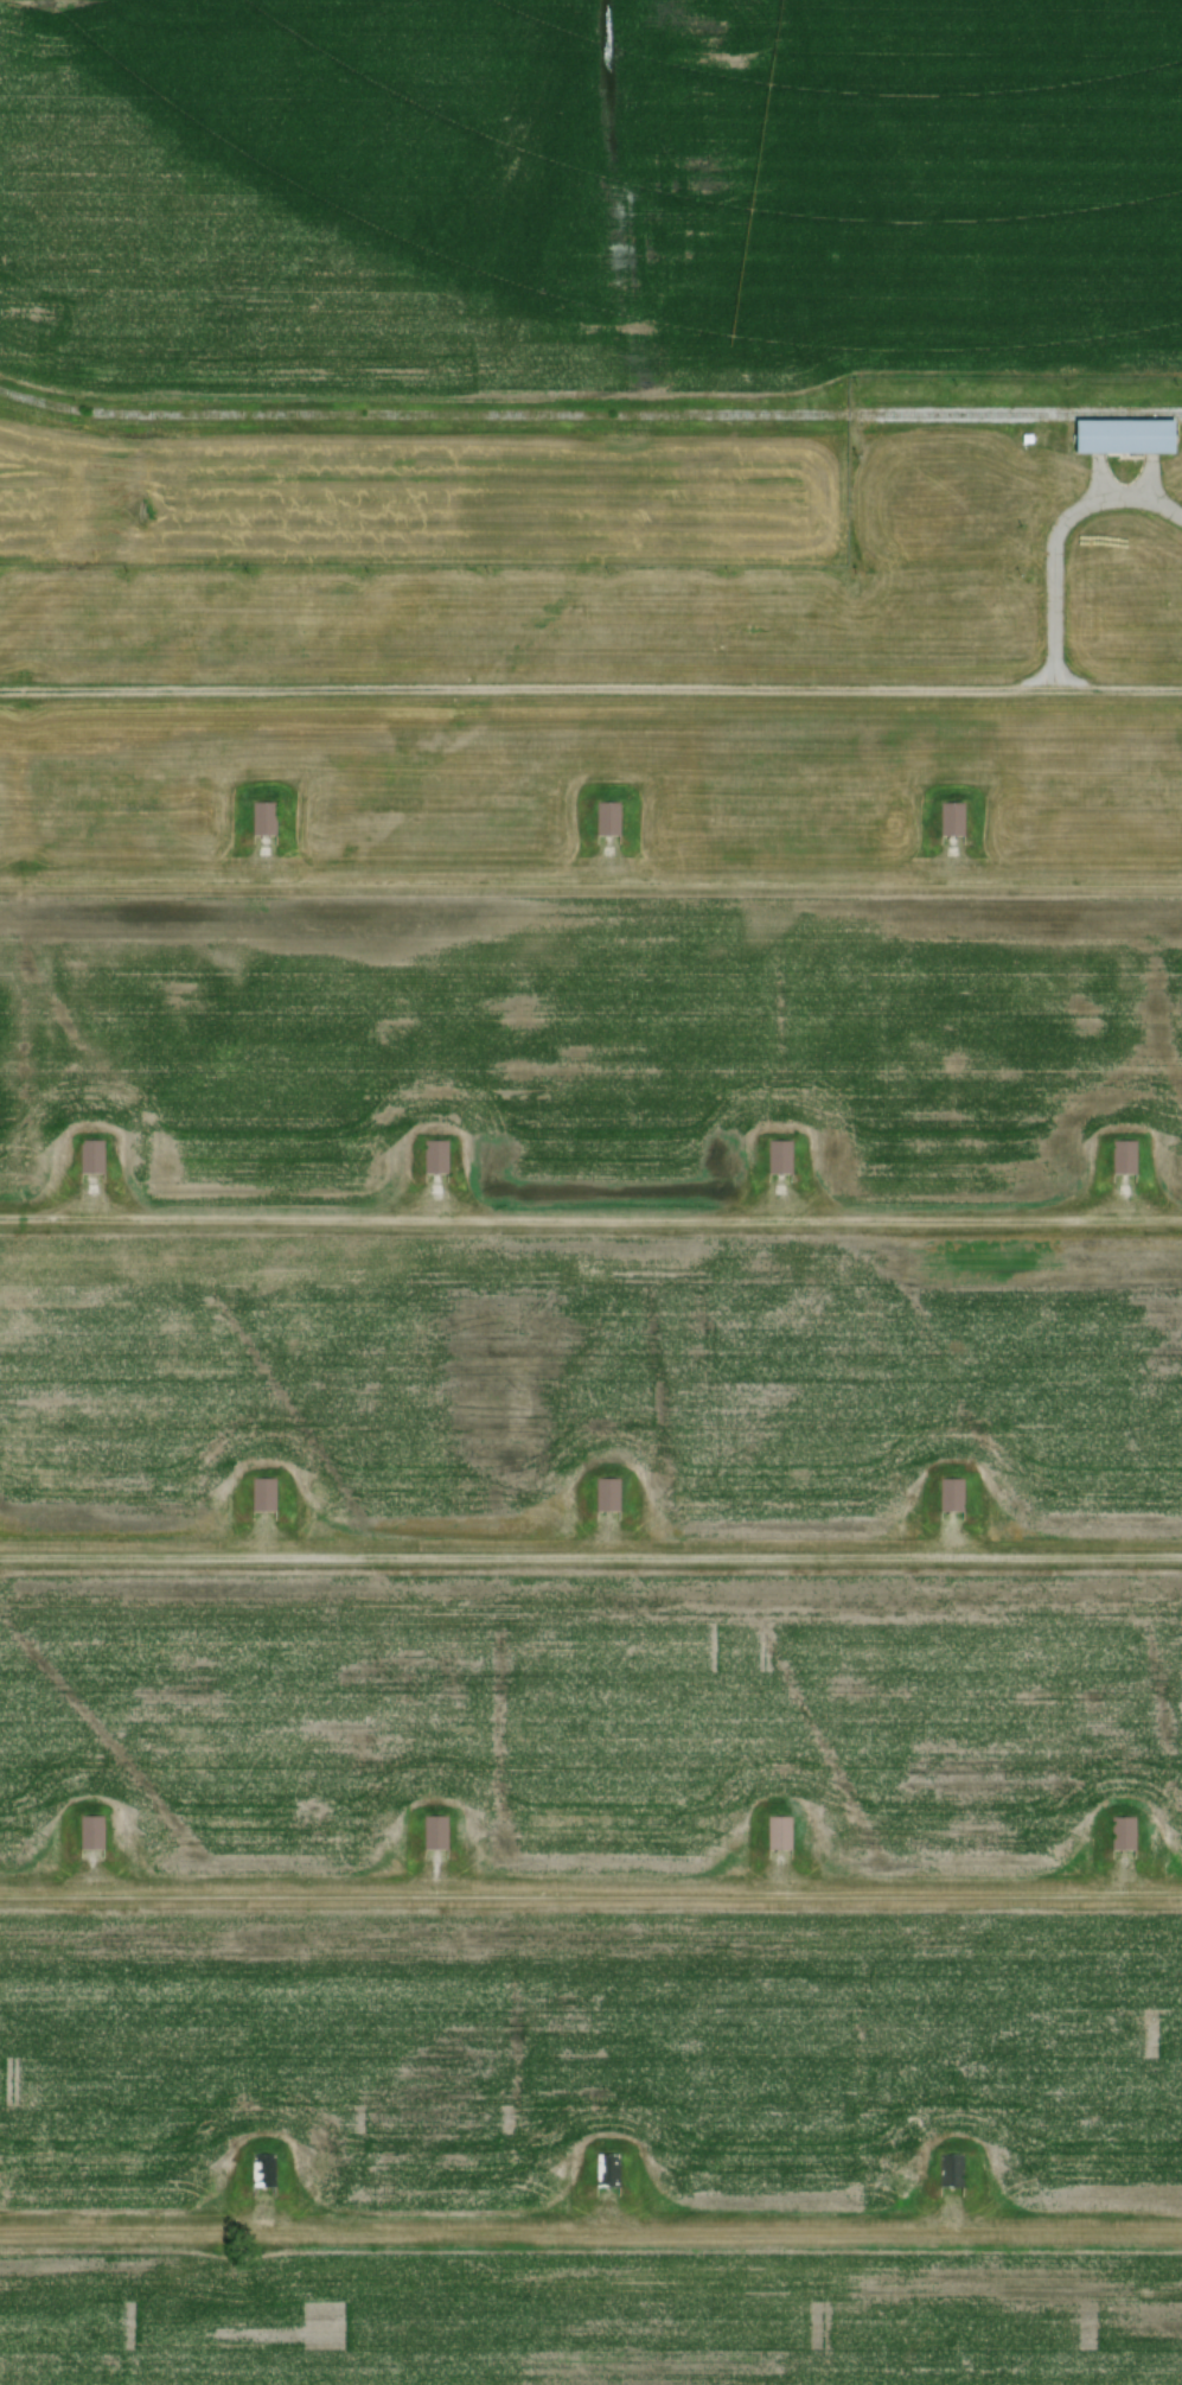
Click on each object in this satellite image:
railway: (589, 415)
building: (1123, 439)
road: (1055, 534)
road: (590, 687)
building: (262, 818)
building: (607, 818)
building: (951, 820)
road: (590, 875)
building: (90, 1156)
building: (434, 1156)
building: (779, 1156)
building: (1123, 1158)
road: (590, 1217)
building: (262, 1494)
building: (607, 1494)
building: (950, 1496)
road: (590, 1554)
building: (90, 1832)
building: (434, 1832)
building: (778, 1832)
building: (1122, 1834)
road: (590, 1892)
building: (261, 2170)
building: (605, 2170)
building: (948, 2172)
road: (590, 2227)

